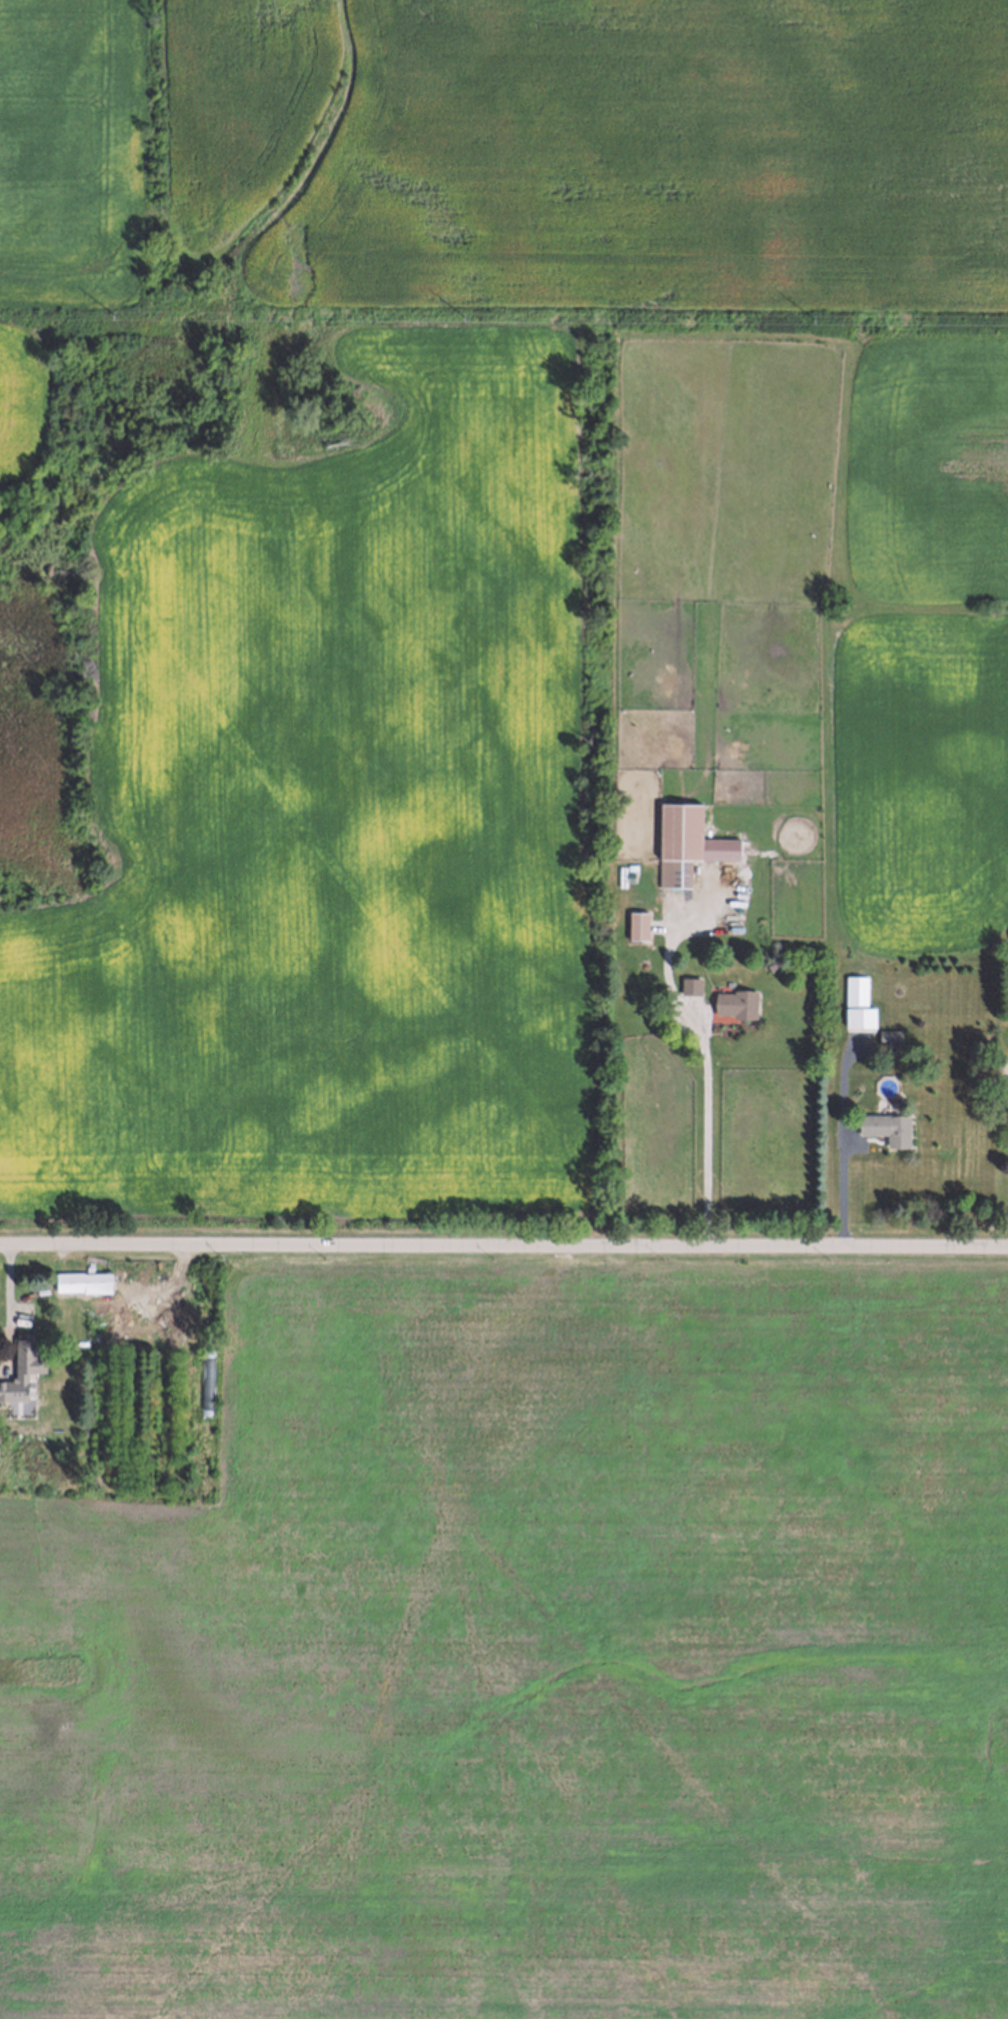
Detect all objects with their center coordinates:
building: (685, 845)
building: (634, 926)
building: (690, 984)
building: (734, 1003)
building: (851, 1003)
building: (883, 1039)
road: (701, 1044)
building: (879, 1129)
road: (842, 1144)
road: (504, 1244)
building: (79, 1283)
road: (13, 1301)
building: (21, 1367)
building: (4, 1418)

